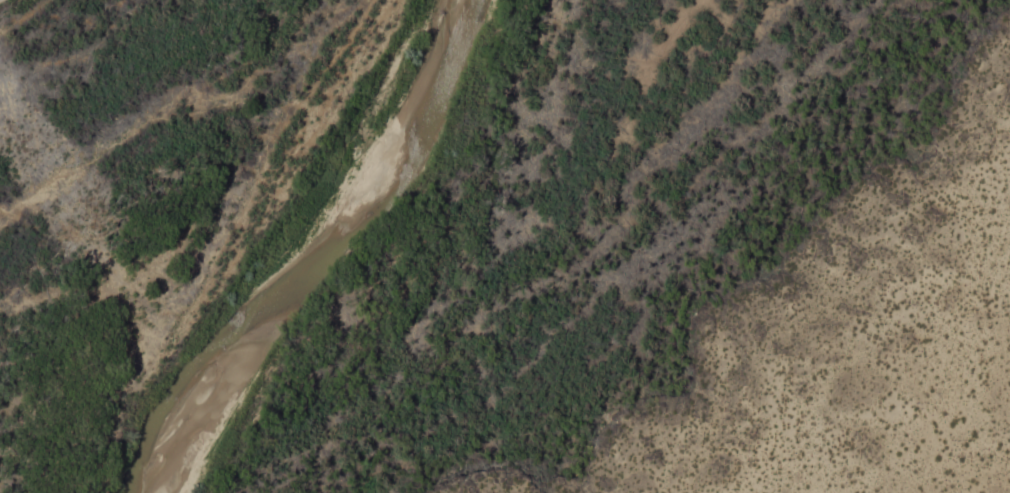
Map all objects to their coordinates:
river: (303, 248)

